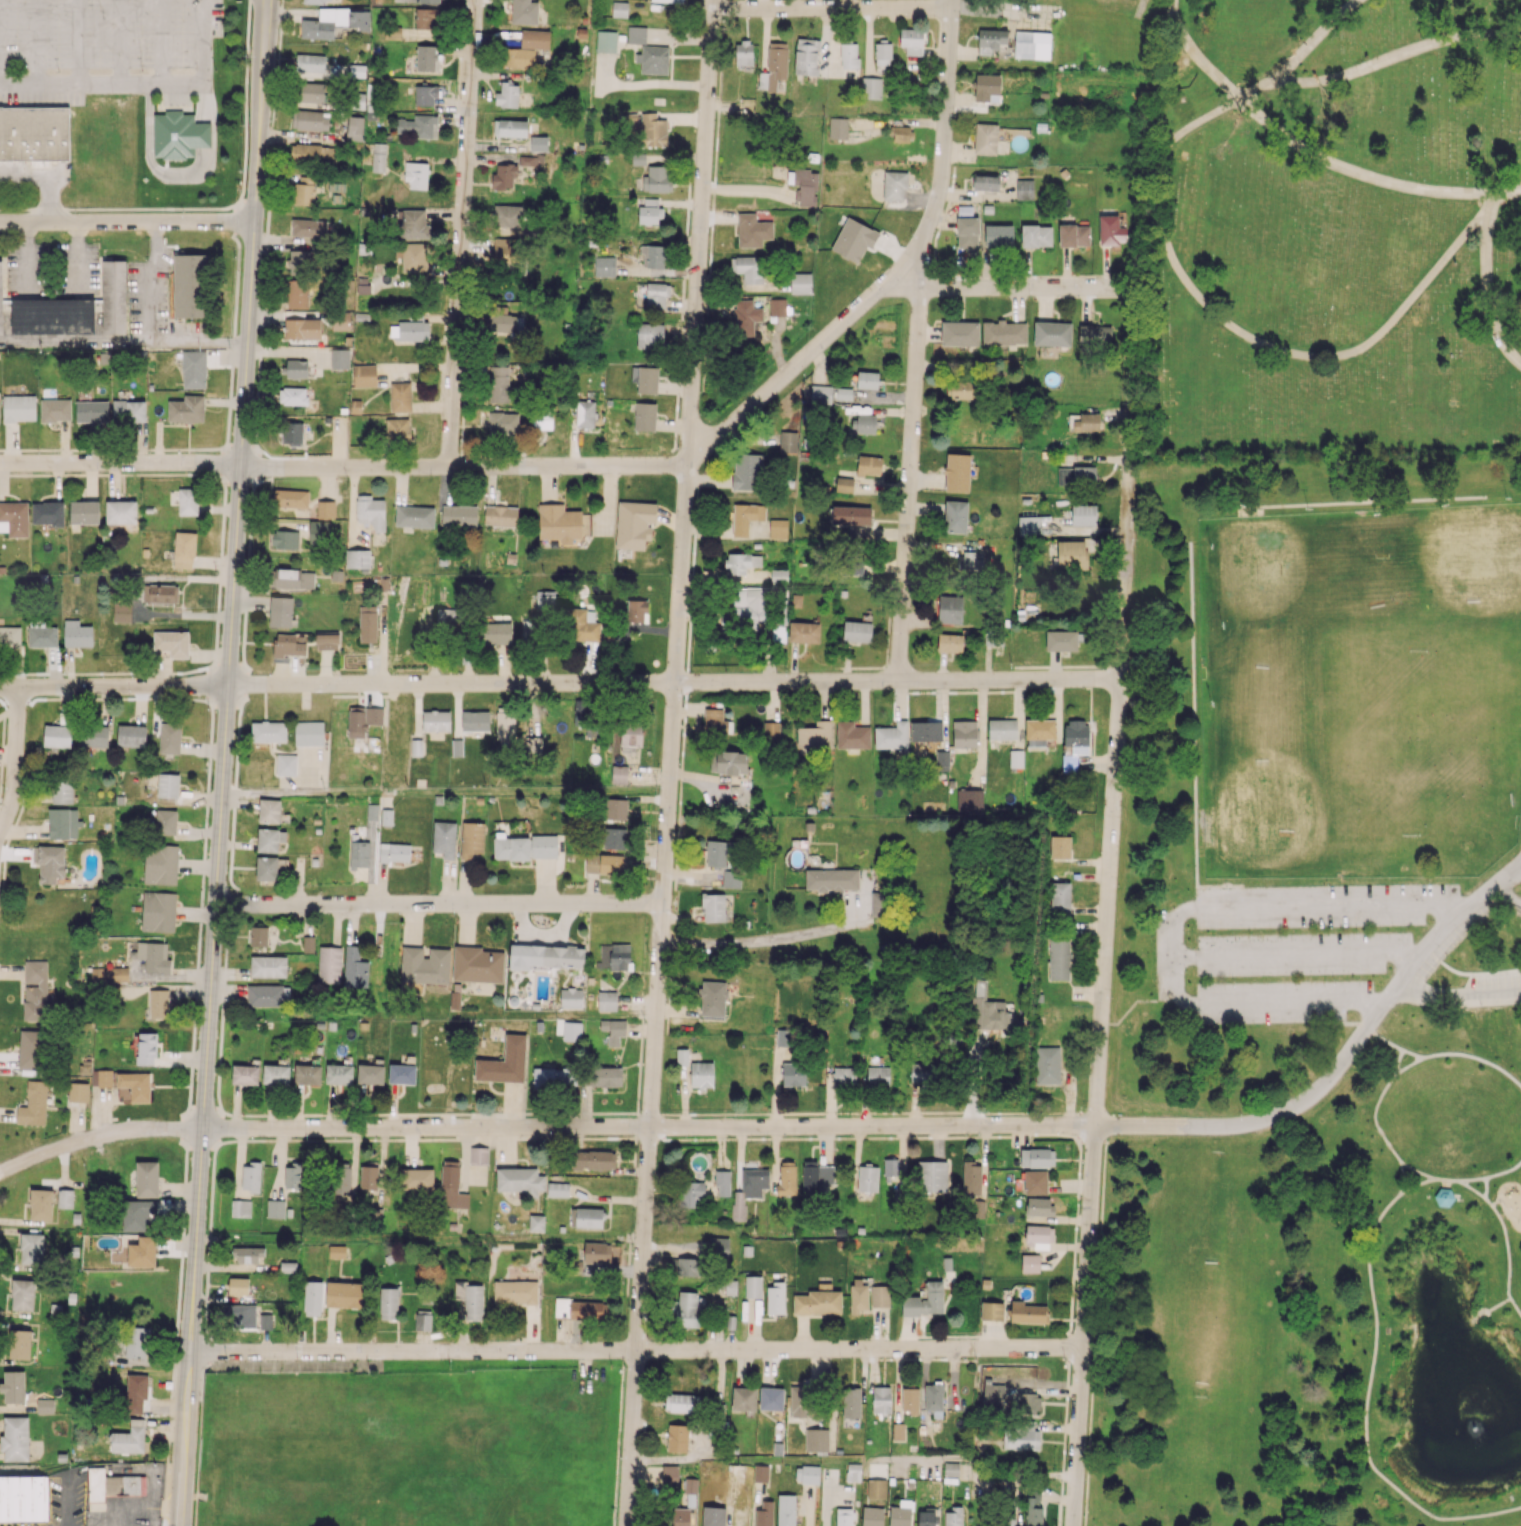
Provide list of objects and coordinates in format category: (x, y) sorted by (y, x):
building: (317, 1)
building: (430, 1)
building: (667, 1)
road: (832, 8)
building: (619, 9)
building: (524, 12)
building: (425, 18)
building: (363, 21)
building: (327, 23)
building: (392, 33)
building: (636, 34)
road: (1314, 38)
road: (247, 39)
building: (991, 40)
building: (606, 41)
building: (912, 44)
building: (1032, 45)
building: (526, 49)
building: (743, 53)
road: (1196, 54)
building: (805, 56)
building: (849, 56)
building: (426, 57)
building: (881, 57)
building: (653, 59)
road: (1380, 61)
building: (310, 65)
building: (774, 66)
building: (357, 70)
road: (141, 84)
building: (871, 87)
building: (987, 87)
building: (310, 91)
building: (425, 94)
building: (507, 95)
building: (310, 120)
building: (417, 126)
building: (838, 127)
building: (355, 128)
building: (510, 128)
building: (647, 129)
building: (34, 133)
building: (901, 134)
building: (178, 135)
building: (985, 138)
building: (538, 143)
building: (313, 154)
building: (379, 157)
building: (638, 158)
building: (529, 160)
road: (1356, 172)
building: (416, 174)
road: (45, 176)
building: (504, 176)
building: (657, 178)
building: (986, 182)
building: (894, 185)
building: (805, 186)
building: (1024, 189)
building: (304, 190)
road: (1507, 191)
road: (1518, 191)
building: (648, 211)
building: (508, 215)
road: (127, 222)
building: (412, 224)
park: (1335, 227)
building: (312, 228)
building: (752, 230)
building: (1111, 230)
road: (461, 232)
building: (968, 232)
building: (998, 235)
building: (1036, 235)
building: (1073, 235)
building: (853, 239)
building: (504, 251)
road: (27, 256)
road: (73, 256)
building: (412, 256)
building: (652, 256)
building: (604, 266)
building: (748, 268)
road: (147, 278)
building: (800, 283)
building: (189, 285)
road: (1022, 287)
building: (297, 293)
building: (656, 294)
building: (113, 297)
road: (1488, 297)
building: (1, 300)
building: (777, 307)
building: (52, 315)
building: (745, 317)
building: (340, 323)
building: (504, 324)
building: (302, 328)
building: (413, 330)
building: (1003, 332)
building: (959, 333)
building: (1052, 333)
building: (650, 335)
building: (1094, 335)
road: (917, 337)
road: (124, 339)
road: (1255, 339)
building: (340, 358)
building: (296, 368)
building: (193, 369)
building: (364, 375)
building: (645, 379)
building: (867, 380)
building: (498, 384)
building: (960, 389)
building: (820, 393)
building: (844, 394)
building: (292, 395)
building: (400, 396)
building: (18, 408)
building: (186, 409)
building: (55, 410)
building: (92, 411)
building: (128, 411)
building: (585, 413)
building: (644, 416)
building: (542, 419)
building: (503, 422)
building: (864, 423)
building: (1086, 423)
building: (397, 428)
building: (292, 433)
building: (789, 442)
road: (121, 464)
road: (613, 465)
building: (869, 465)
building: (747, 471)
building: (957, 472)
building: (1076, 474)
building: (844, 484)
building: (1374, 496)
building: (290, 498)
building: (188, 501)
building: (325, 509)
building: (84, 512)
building: (121, 512)
building: (371, 512)
building: (47, 513)
building: (1083, 514)
building: (459, 515)
building: (500, 515)
building: (850, 515)
building: (414, 516)
building: (955, 516)
building: (746, 517)
building: (14, 518)
building: (559, 523)
building: (634, 524)
building: (1029, 525)
building: (778, 528)
building: (318, 531)
building: (284, 539)
building: (184, 550)
building: (1071, 554)
building: (357, 558)
building: (969, 561)
building: (741, 562)
building: (856, 565)
park: (1461, 572)
building: (779, 576)
building: (291, 578)
park: (1280, 580)
building: (160, 593)
building: (544, 601)
building: (746, 607)
building: (950, 609)
building: (280, 611)
building: (636, 611)
building: (122, 612)
building: (444, 617)
building: (367, 623)
building: (581, 626)
building: (530, 629)
building: (857, 631)
building: (496, 632)
building: (804, 632)
building: (778, 633)
building: (77, 634)
building: (10, 636)
building: (42, 636)
building: (993, 638)
building: (1061, 640)
building: (327, 641)
building: (950, 642)
building: (171, 643)
building: (288, 645)
road: (674, 682)
road: (114, 686)
park: (1372, 688)
road: (1119, 703)
building: (581, 712)
building: (362, 720)
building: (436, 721)
building: (475, 721)
building: (716, 722)
building: (505, 725)
building: (1002, 729)
building: (771, 730)
building: (925, 730)
building: (268, 731)
building: (1039, 732)
building: (308, 733)
building: (964, 734)
building: (131, 735)
building: (815, 735)
building: (852, 735)
building: (57, 736)
building: (94, 736)
building: (892, 736)
building: (630, 737)
building: (169, 738)
building: (1074, 741)
park: (1437, 741)
building: (416, 747)
building: (457, 747)
building: (1016, 758)
road: (14, 759)
building: (942, 760)
road: (222, 762)
building: (727, 762)
road: (670, 763)
building: (286, 764)
building: (619, 774)
building: (168, 785)
park: (1308, 786)
building: (62, 791)
road: (445, 791)
building: (969, 800)
building: (616, 809)
building: (269, 811)
building: (166, 821)
building: (63, 823)
building: (1207, 828)
building: (614, 838)
building: (269, 839)
building: (444, 839)
building: (471, 839)
building: (543, 846)
building: (510, 847)
building: (1060, 847)
building: (394, 852)
building: (359, 853)
building: (717, 853)
building: (49, 862)
building: (160, 864)
building: (604, 864)
building: (266, 867)
building: (731, 878)
building: (831, 879)
building: (1060, 897)
road: (1506, 897)
road: (438, 903)
building: (877, 903)
building: (713, 907)
road: (1300, 907)
building: (158, 911)
building: (258, 936)
road: (750, 942)
building: (308, 944)
parking lot: (1288, 949)
road: (1298, 955)
building: (154, 956)
building: (545, 956)
building: (614, 956)
building: (1059, 957)
building: (329, 964)
building: (477, 964)
building: (424, 965)
building: (268, 966)
building: (354, 967)
building: (109, 974)
parking lot: (1493, 986)
building: (35, 990)
building: (267, 995)
building: (571, 998)
building: (712, 999)
road: (1458, 999)
building: (606, 1000)
park: (1316, 1001)
building: (158, 1003)
road: (1260, 1003)
building: (990, 1011)
building: (613, 1030)
building: (783, 1037)
road: (1396, 1047)
building: (146, 1048)
building: (30, 1049)
building: (682, 1056)
building: (505, 1061)
road: (1341, 1062)
road: (1395, 1063)
building: (1047, 1065)
building: (922, 1072)
building: (245, 1073)
building: (275, 1074)
building: (307, 1074)
building: (338, 1074)
building: (370, 1074)
building: (402, 1074)
building: (701, 1074)
building: (793, 1074)
building: (555, 1076)
building: (606, 1076)
building: (878, 1076)
building: (101, 1077)
building: (844, 1077)
building: (133, 1087)
building: (77, 1092)
building: (33, 1104)
road: (648, 1126)
road: (98, 1136)
building: (478, 1155)
building: (1037, 1157)
building: (593, 1159)
building: (368, 1175)
building: (815, 1175)
building: (250, 1176)
building: (932, 1176)
building: (293, 1177)
building: (787, 1177)
building: (340, 1178)
building: (867, 1178)
building: (971, 1178)
road: (1443, 1178)
building: (146, 1179)
building: (417, 1179)
building: (518, 1180)
road: (1445, 1180)
building: (1035, 1182)
building: (722, 1183)
building: (451, 1186)
building: (558, 1189)
building: (748, 1190)
building: (692, 1193)
building: (65, 1198)
building: (1444, 1199)
building: (41, 1204)
building: (1039, 1206)
building: (240, 1208)
building: (275, 1208)
building: (978, 1208)
building: (138, 1214)
building: (586, 1217)
building: (536, 1222)
road: (1503, 1226)
building: (1038, 1236)
road: (420, 1238)
building: (718, 1247)
building: (31, 1248)
building: (336, 1251)
building: (142, 1252)
building: (597, 1252)
building: (247, 1254)
building: (1030, 1262)
building: (671, 1264)
building: (689, 1266)
building: (288, 1267)
road: (1369, 1274)
building: (238, 1286)
building: (753, 1286)
building: (515, 1292)
building: (22, 1294)
building: (344, 1294)
building: (879, 1295)
building: (312, 1298)
building: (775, 1298)
building: (470, 1299)
building: (818, 1301)
building: (925, 1301)
building: (388, 1303)
road: (1497, 1307)
building: (578, 1309)
building: (687, 1309)
building: (992, 1310)
building: (1027, 1312)
building: (239, 1314)
building: (266, 1320)
building: (423, 1320)
road: (1083, 1325)
building: (137, 1342)
building: (19, 1344)
road: (635, 1350)
building: (13, 1386)
building: (136, 1392)
building: (993, 1394)
building: (932, 1396)
building: (743, 1398)
building: (771, 1398)
building: (797, 1398)
building: (881, 1399)
building: (910, 1400)
building: (682, 1402)
building: (851, 1402)
building: (1026, 1402)
building: (45, 1406)
building: (898, 1431)
building: (1020, 1436)
building: (677, 1437)
building: (129, 1438)
building: (15, 1439)
building: (816, 1439)
building: (951, 1468)
building: (853, 1472)
building: (761, 1473)
building: (807, 1474)
building: (670, 1475)
building: (113, 1485)
building: (690, 1485)
building: (876, 1488)
building: (23, 1498)
building: (1033, 1507)
building: (785, 1510)
building: (764, 1514)
building: (900, 1514)
building: (713, 1516)
building: (844, 1516)
building: (872, 1516)
building: (953, 1516)
building: (680, 1517)
building: (925, 1517)

